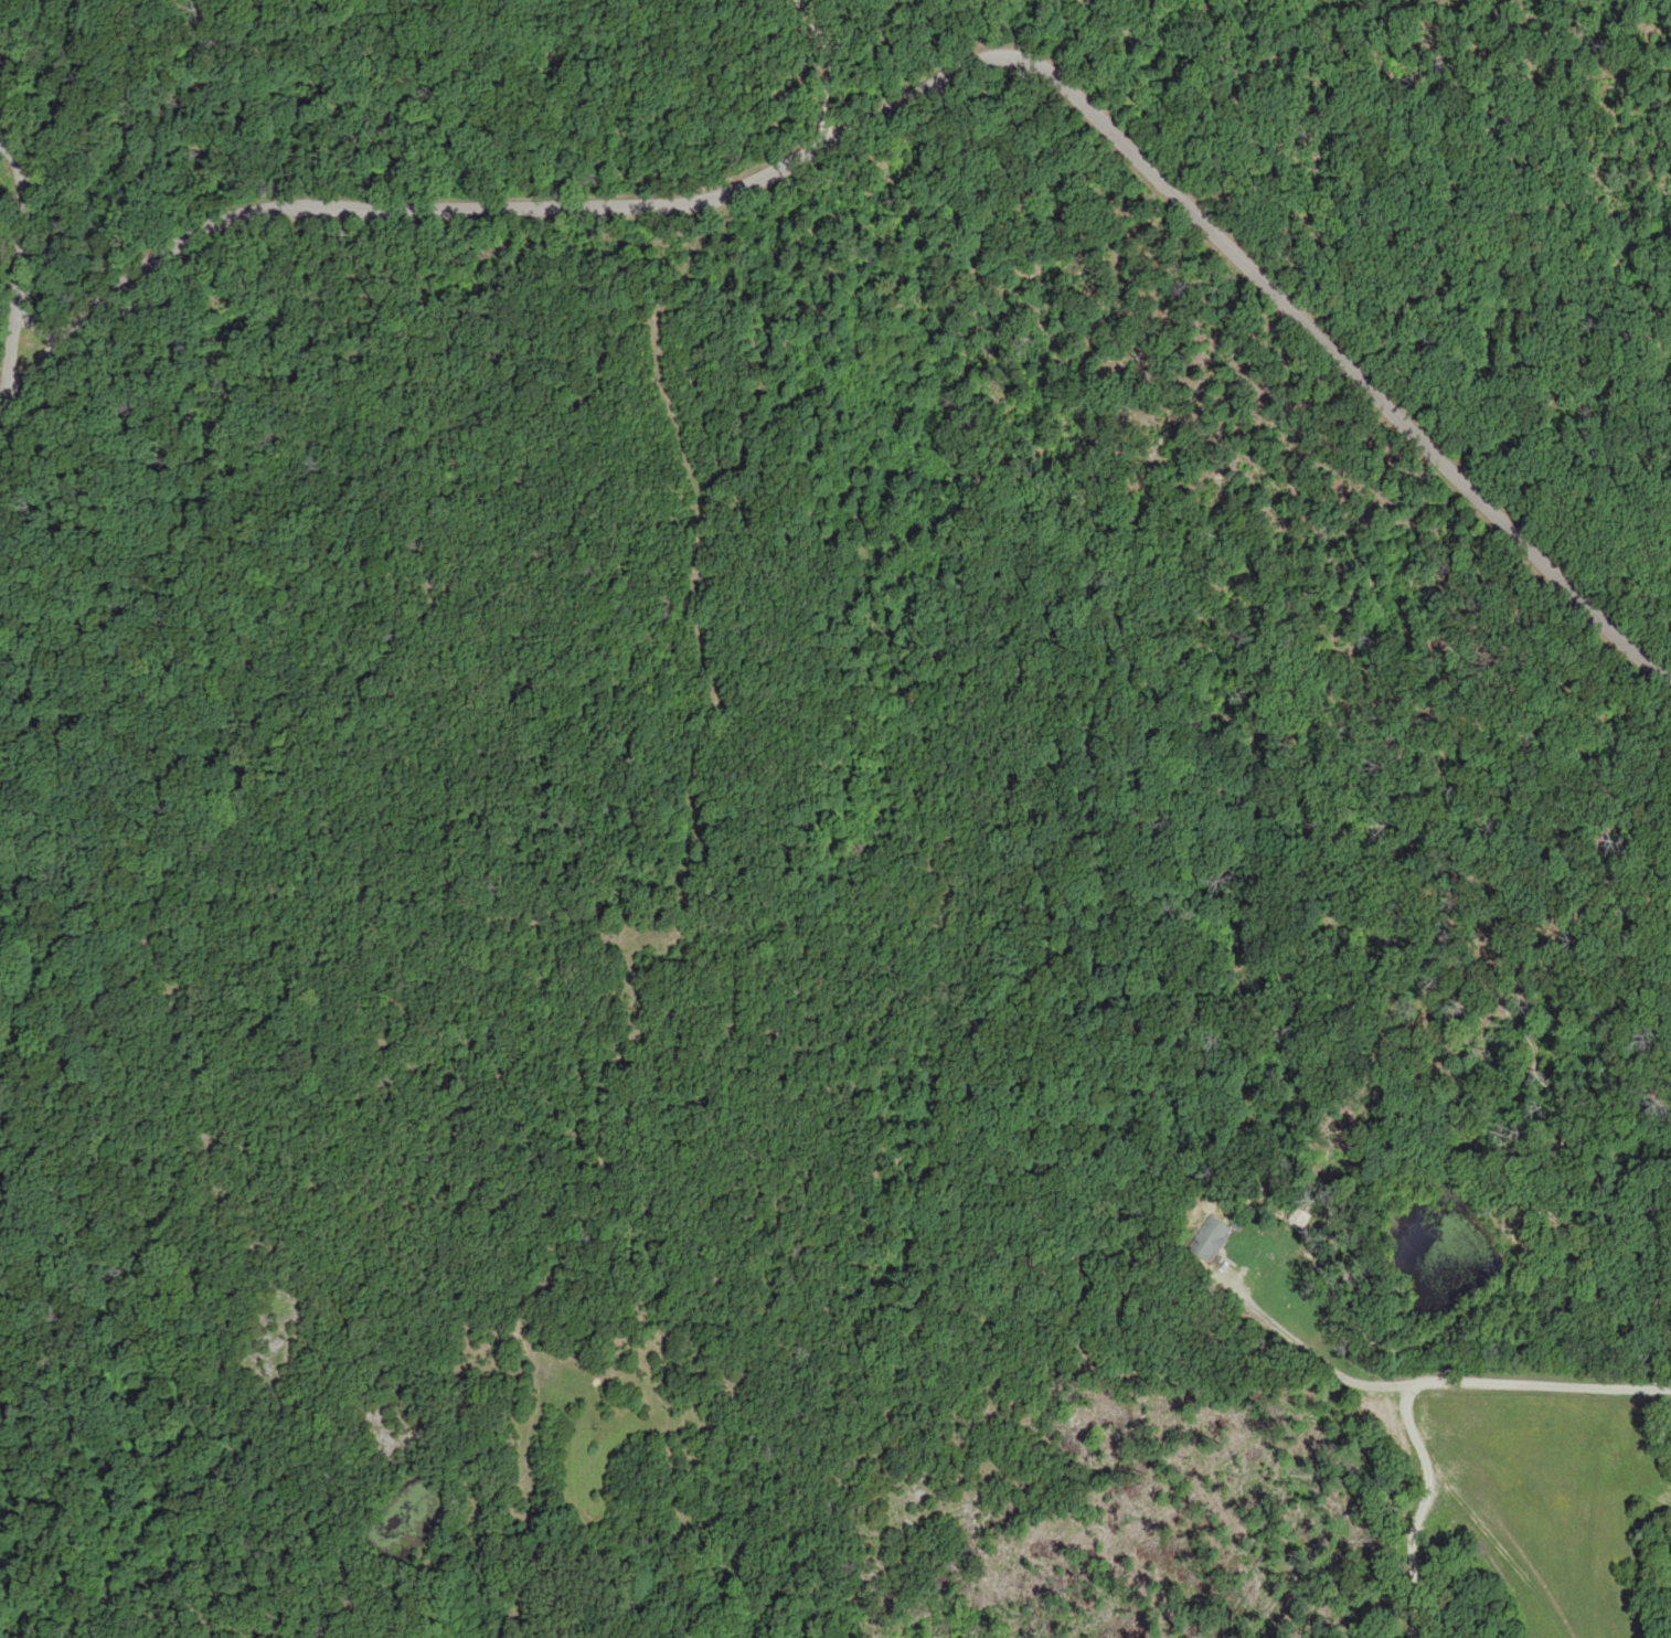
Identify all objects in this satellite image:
road: (895, 52)
road: (699, 79)
road: (51, 198)
park: (1333, 439)
building: (1213, 1238)

